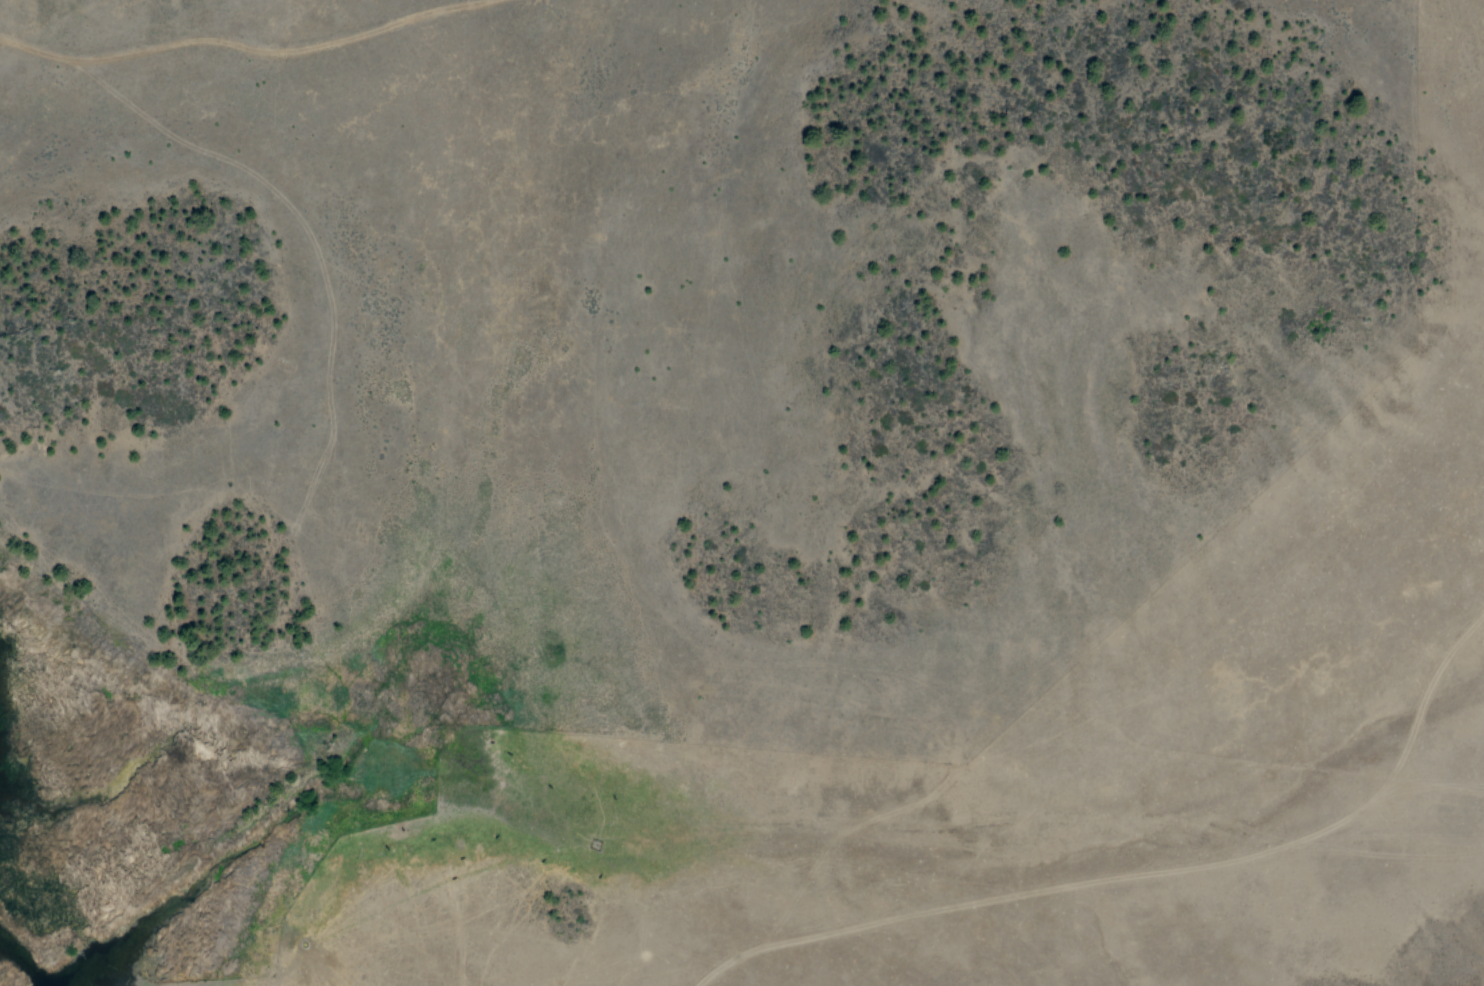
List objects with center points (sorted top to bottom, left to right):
road: (277, 49)
road: (473, 420)
road: (816, 861)
road: (1177, 861)

